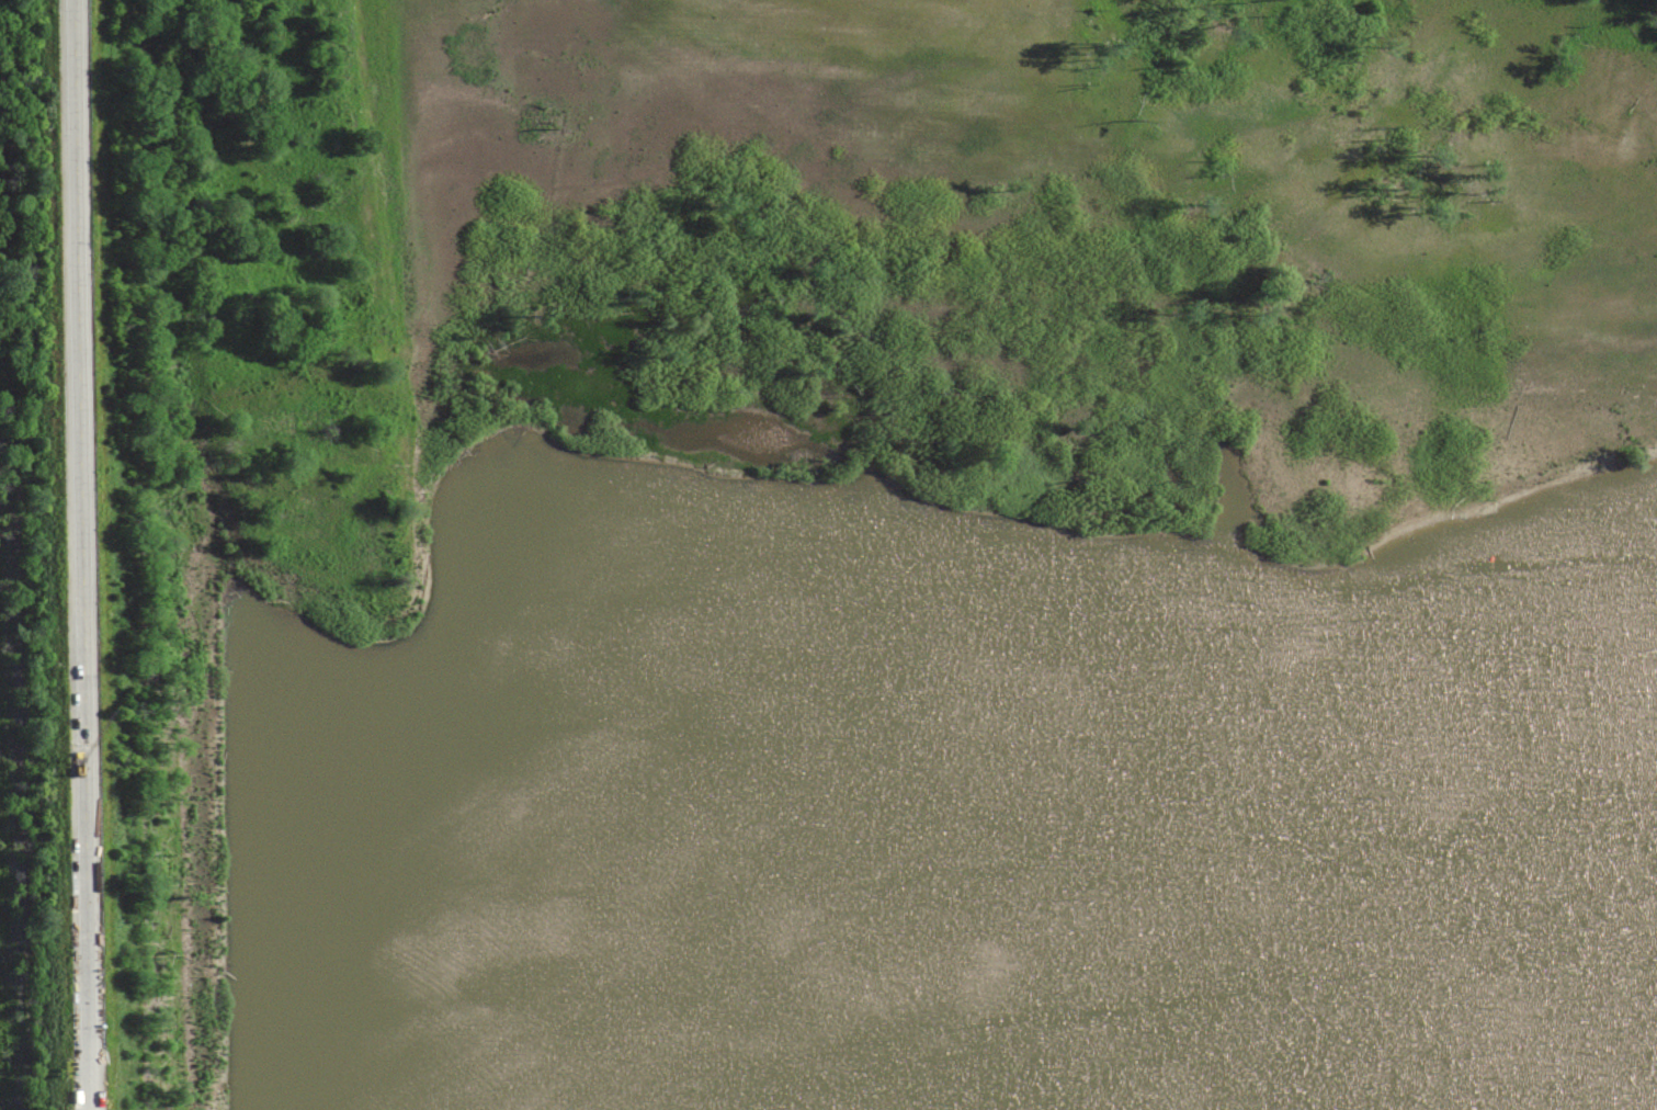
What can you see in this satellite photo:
road: (81, 555)
river: (1489, 1060)

